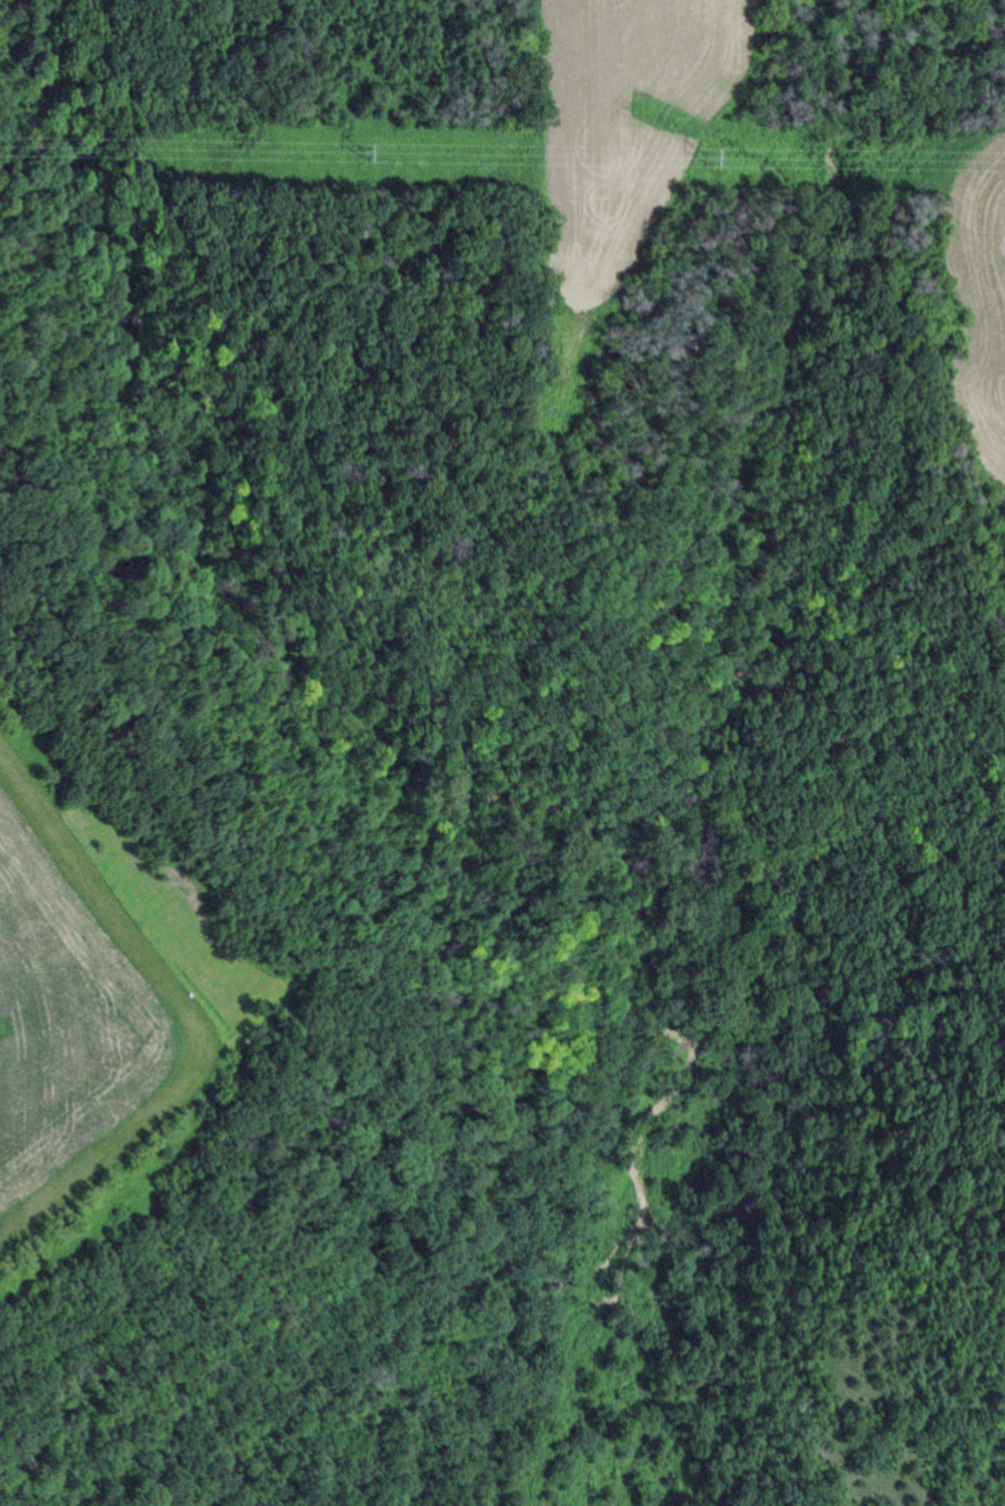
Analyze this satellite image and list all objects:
power tower: (364, 153)
power tower: (702, 159)

